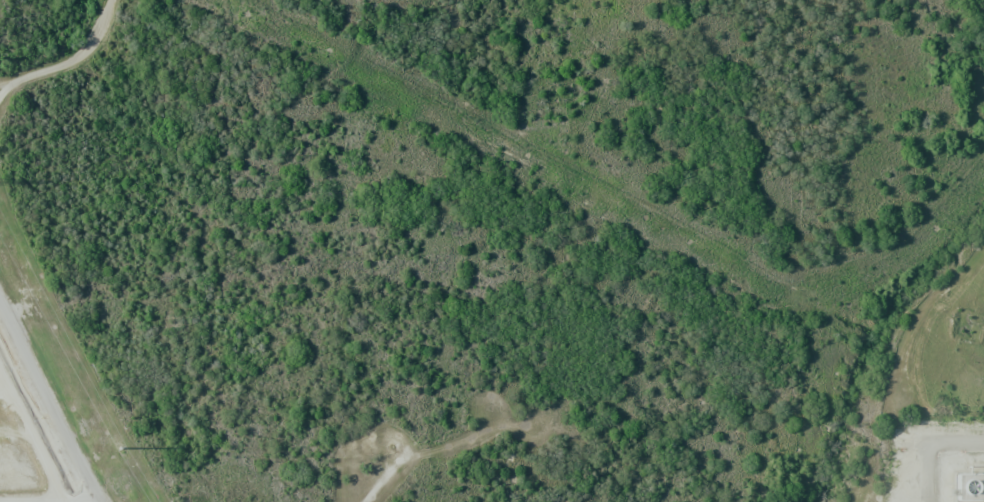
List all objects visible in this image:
road: (73, 61)
road: (48, 404)
power tower: (119, 448)
building: (969, 487)

